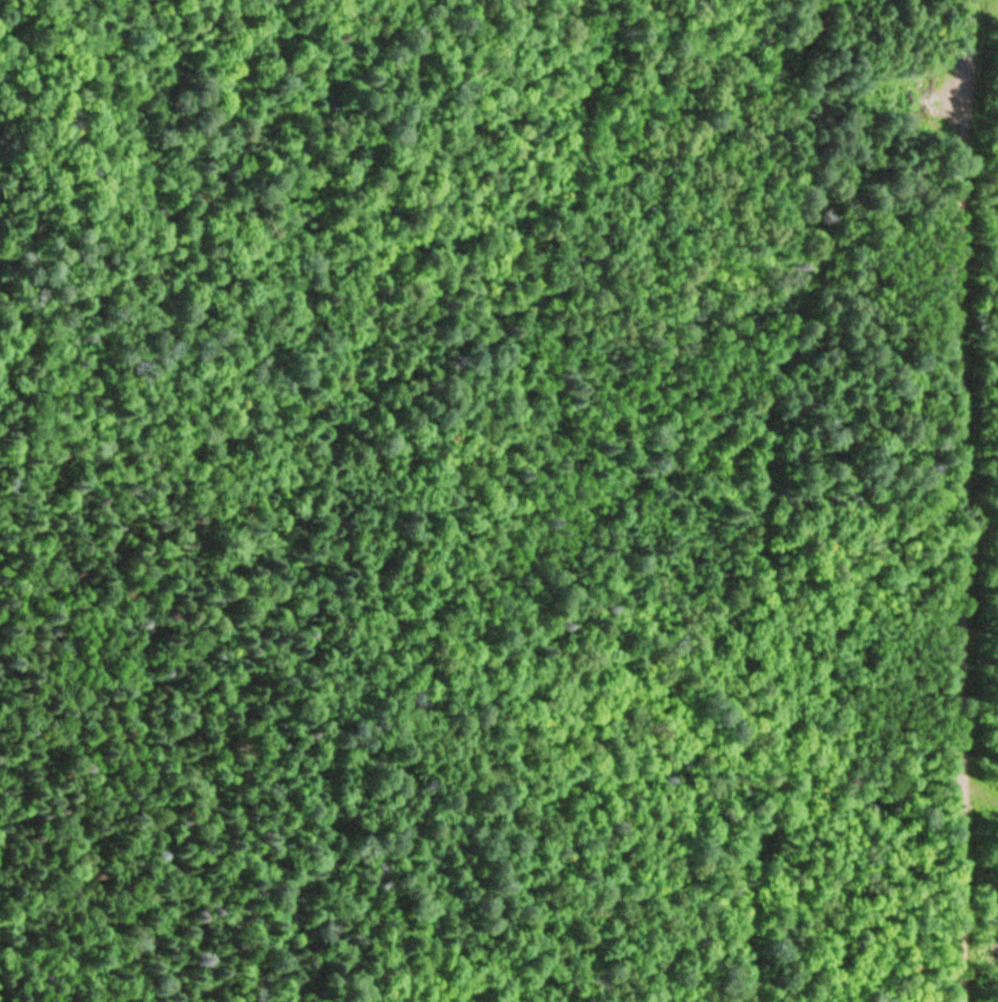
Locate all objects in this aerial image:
road: (963, 74)

